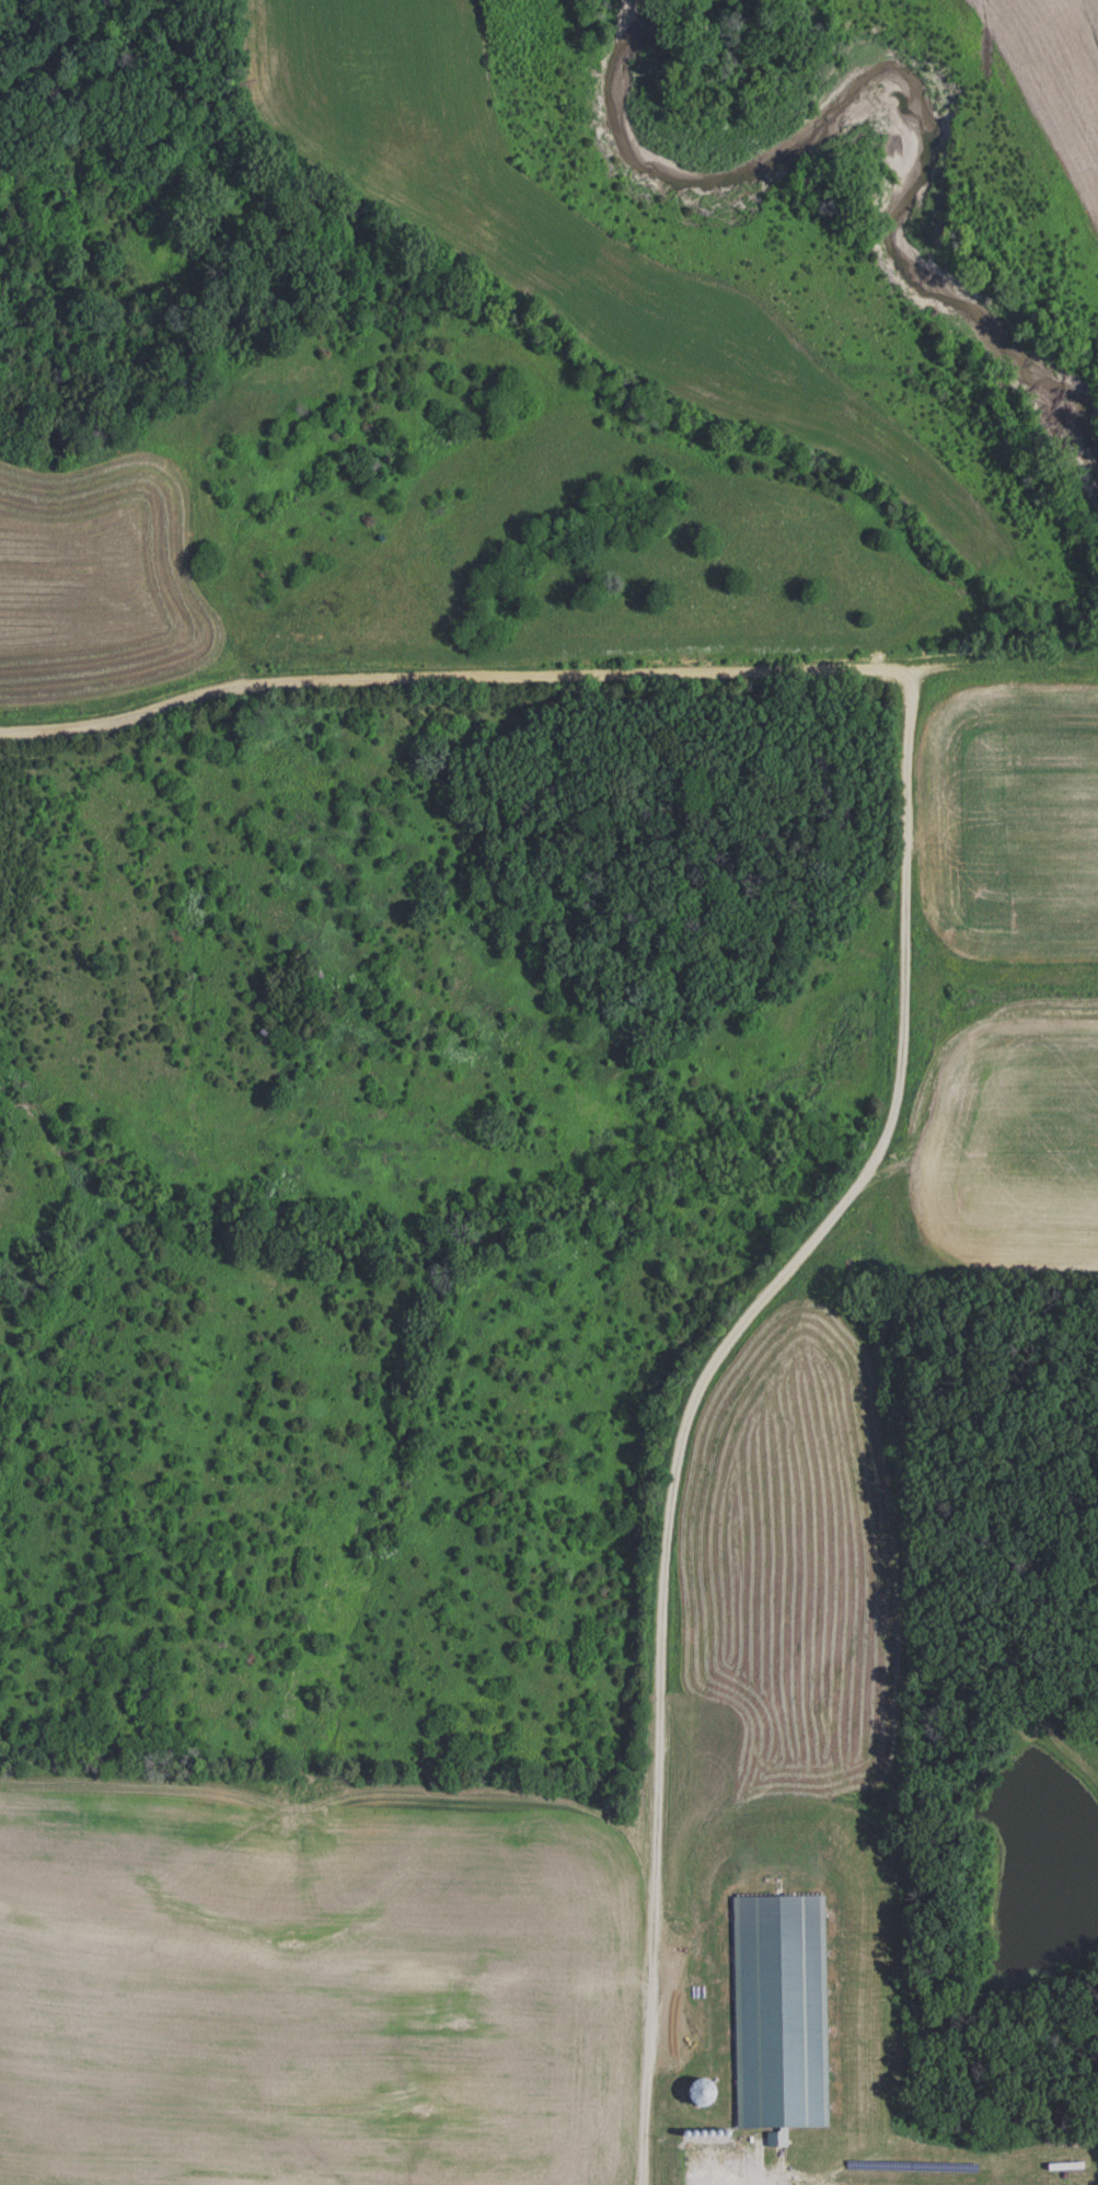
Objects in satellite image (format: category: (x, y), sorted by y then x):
road: (545, 671)
road: (691, 1392)
building: (782, 2013)
building: (705, 2093)

